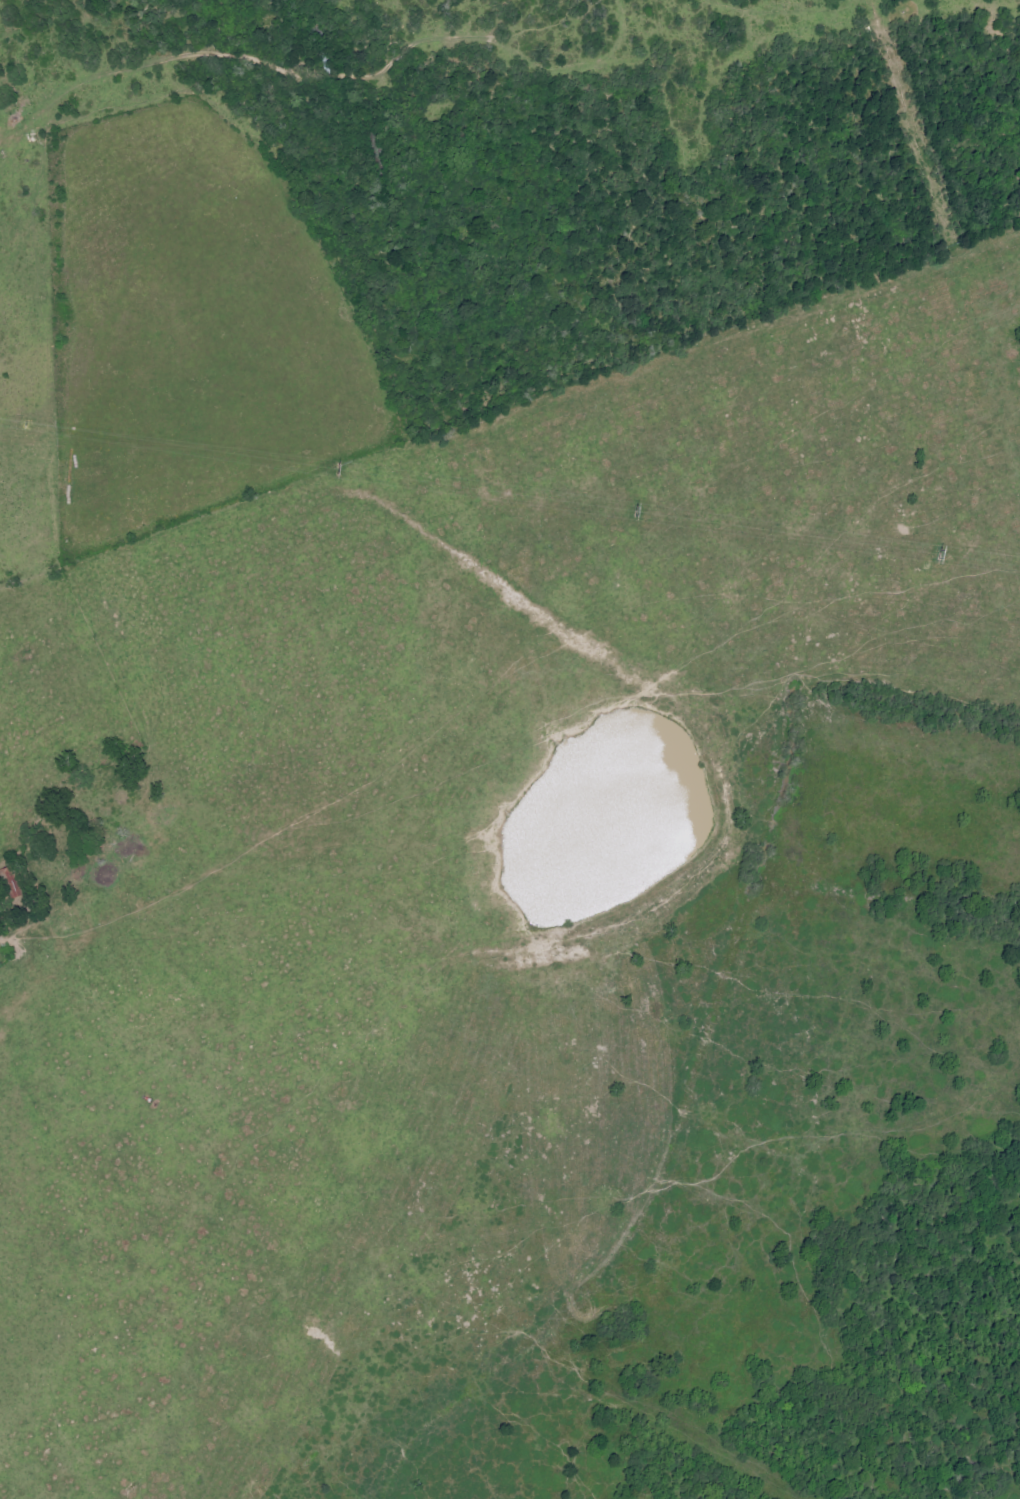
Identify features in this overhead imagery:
power tower: (18, 423)
power tower: (329, 465)
power tower: (632, 508)
power tower: (933, 551)
road: (5, 972)

